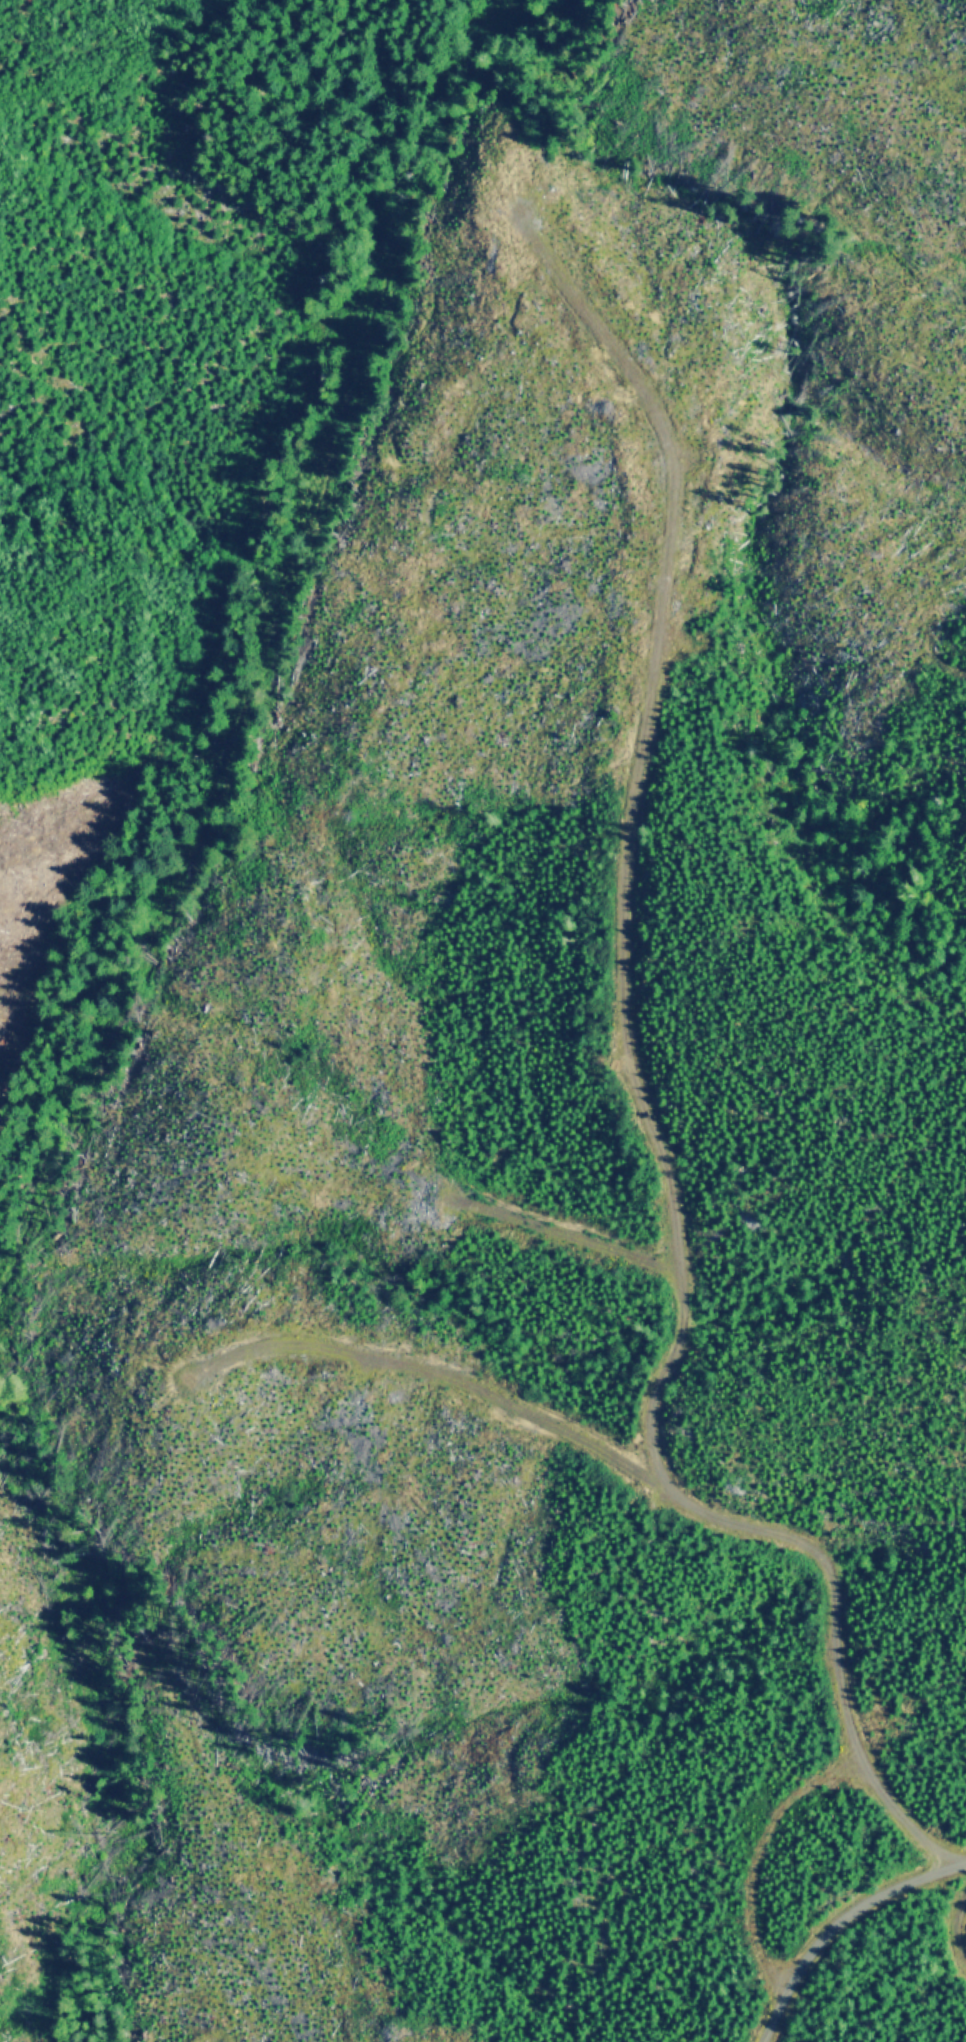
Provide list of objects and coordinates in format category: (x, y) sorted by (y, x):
road: (612, 982)
road: (457, 1382)
road: (825, 1650)
road: (836, 1947)

